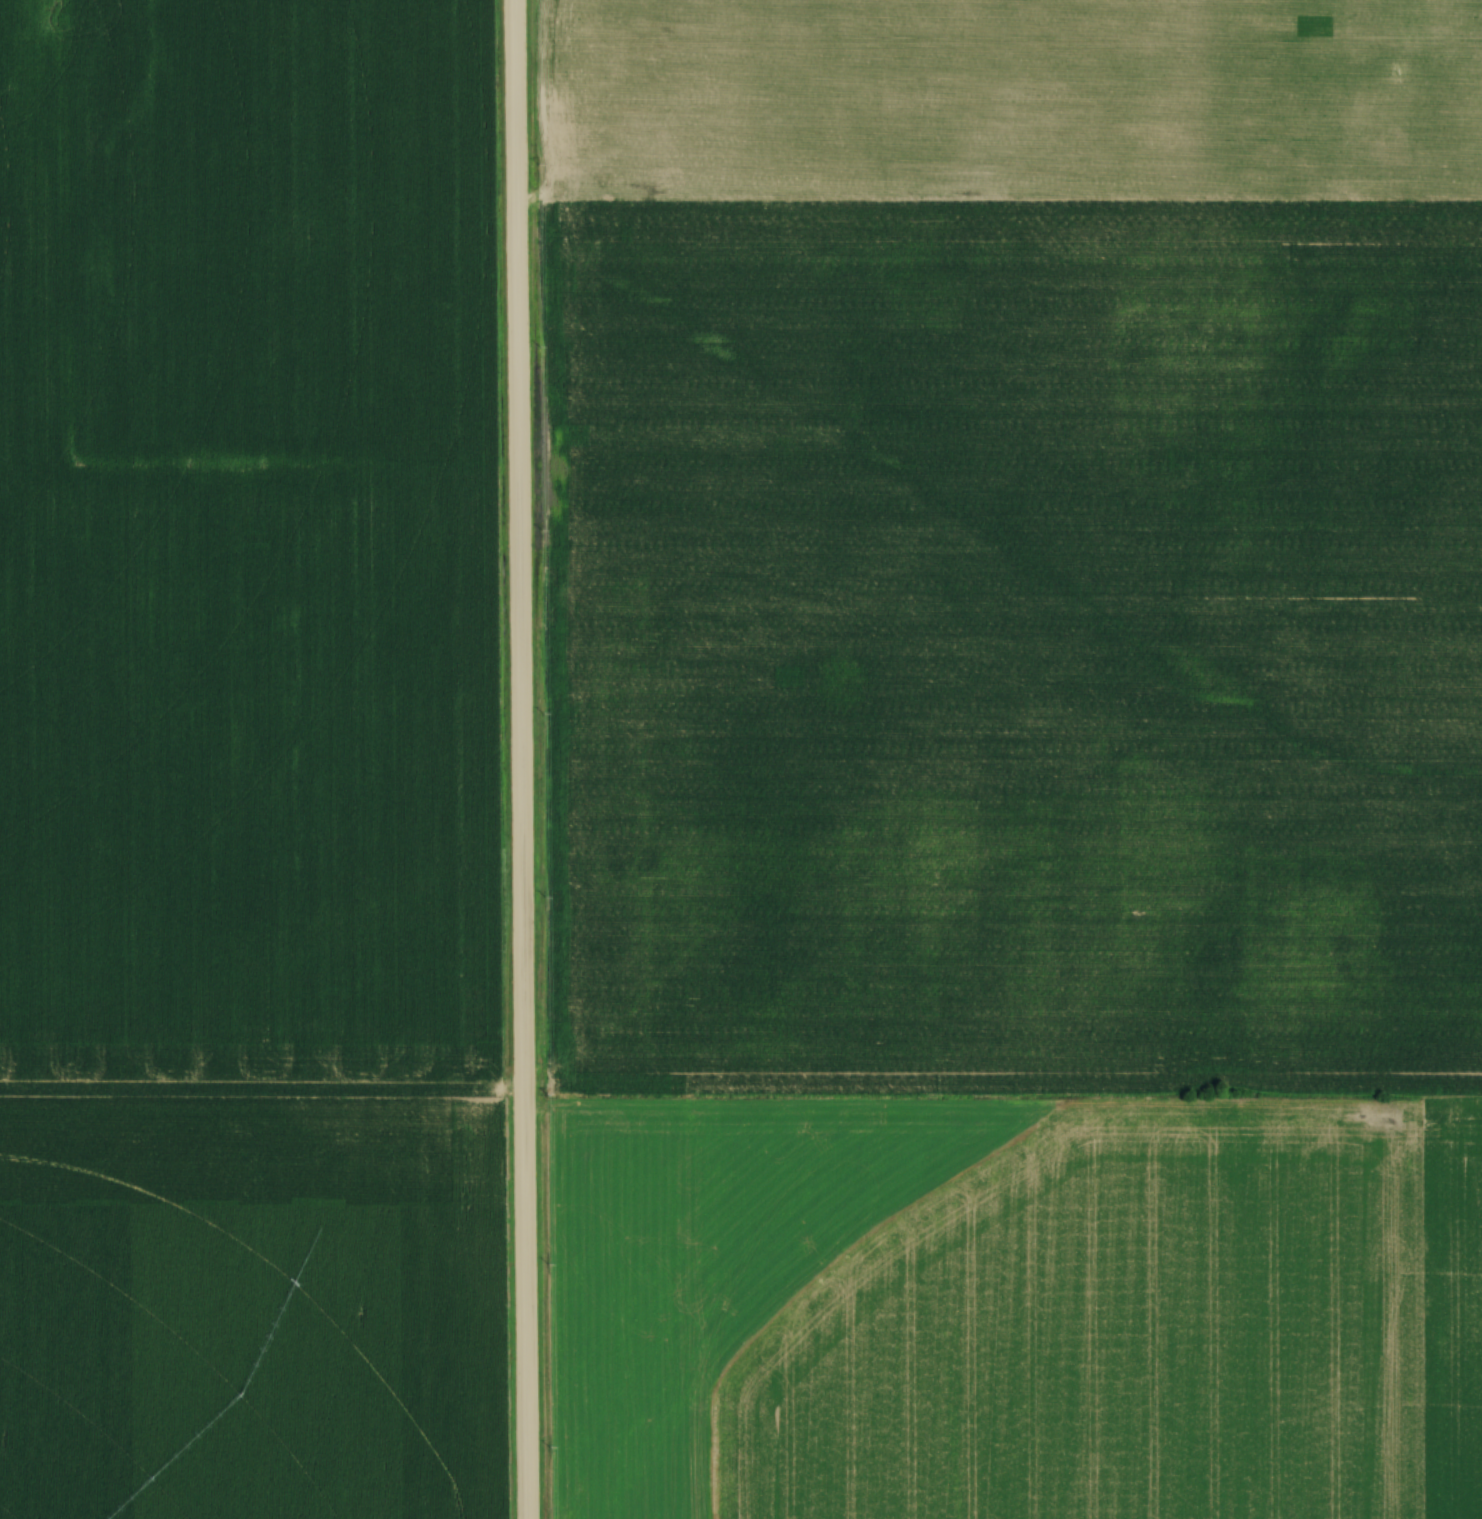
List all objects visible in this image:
road: (519, 759)

